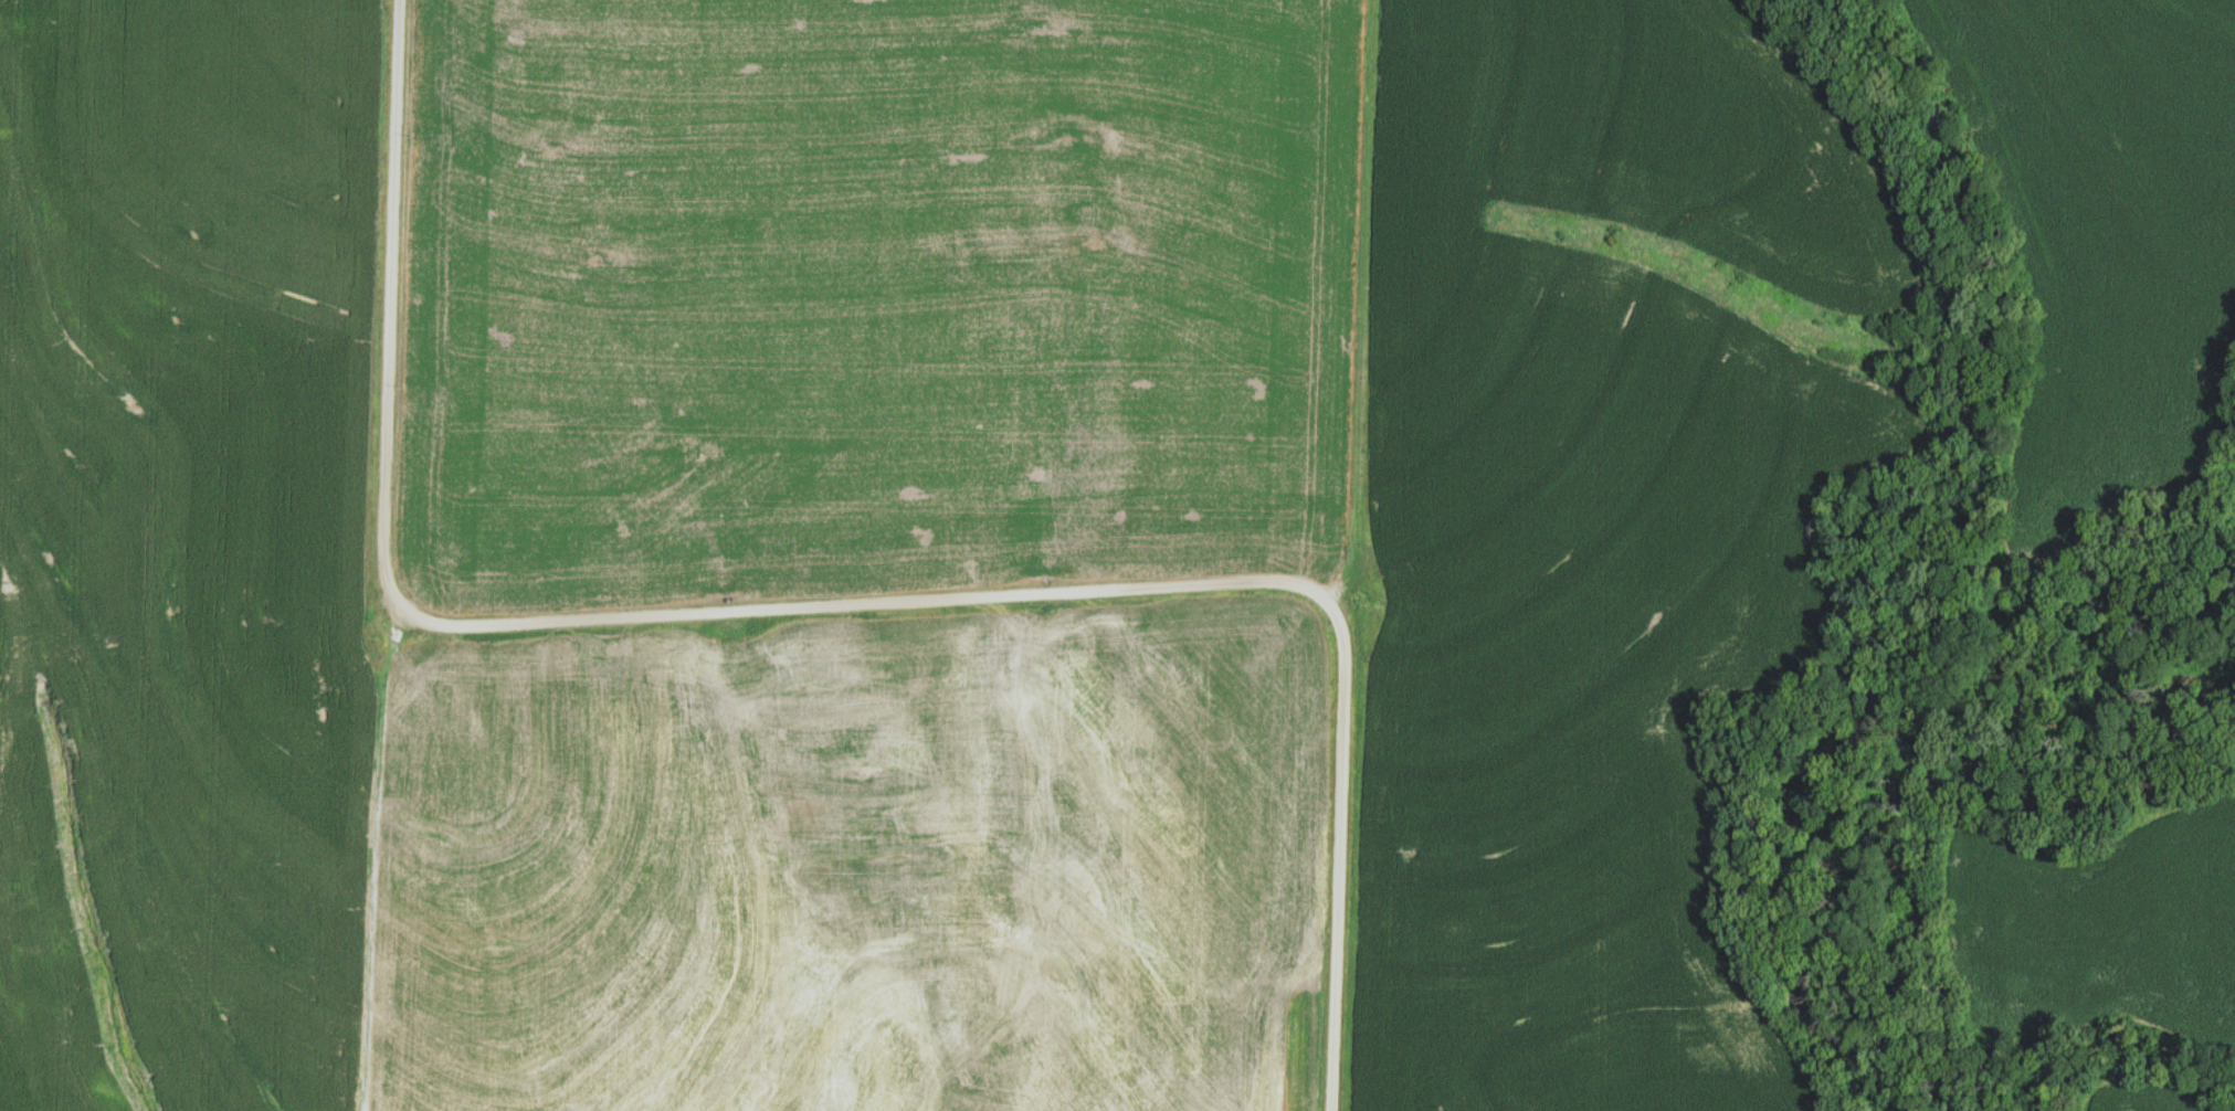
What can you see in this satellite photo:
road: (815, 603)

